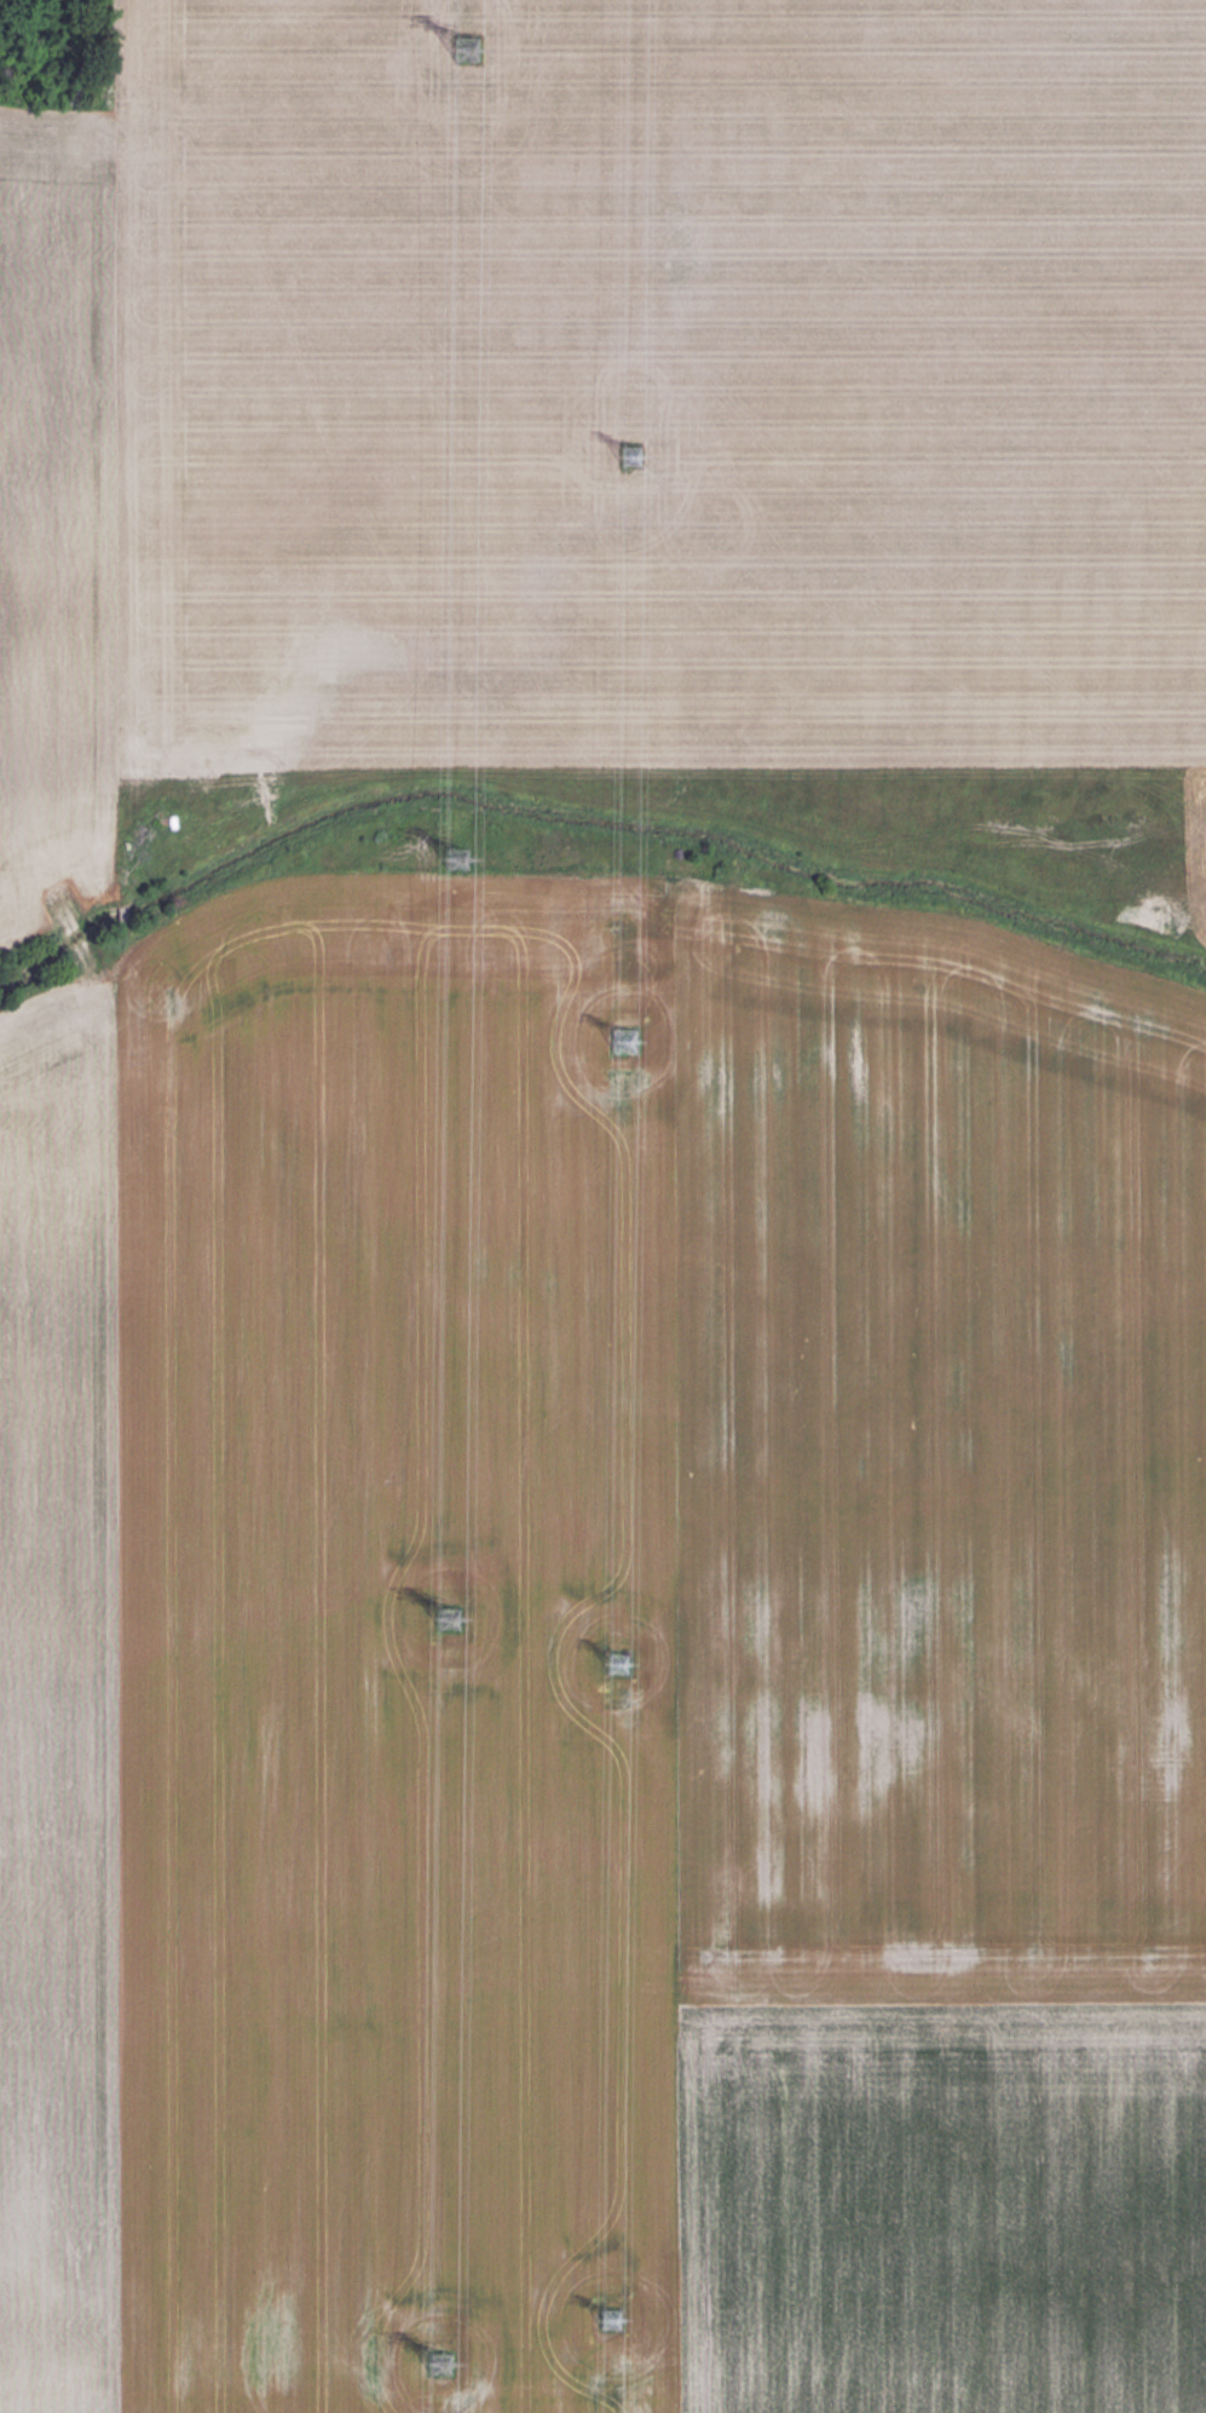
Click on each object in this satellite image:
power tower: (461, 47)
power tower: (627, 455)
power tower: (451, 856)
power tower: (625, 1032)
power tower: (448, 1618)
power tower: (625, 1671)
power tower: (616, 2315)
power tower: (440, 2363)

